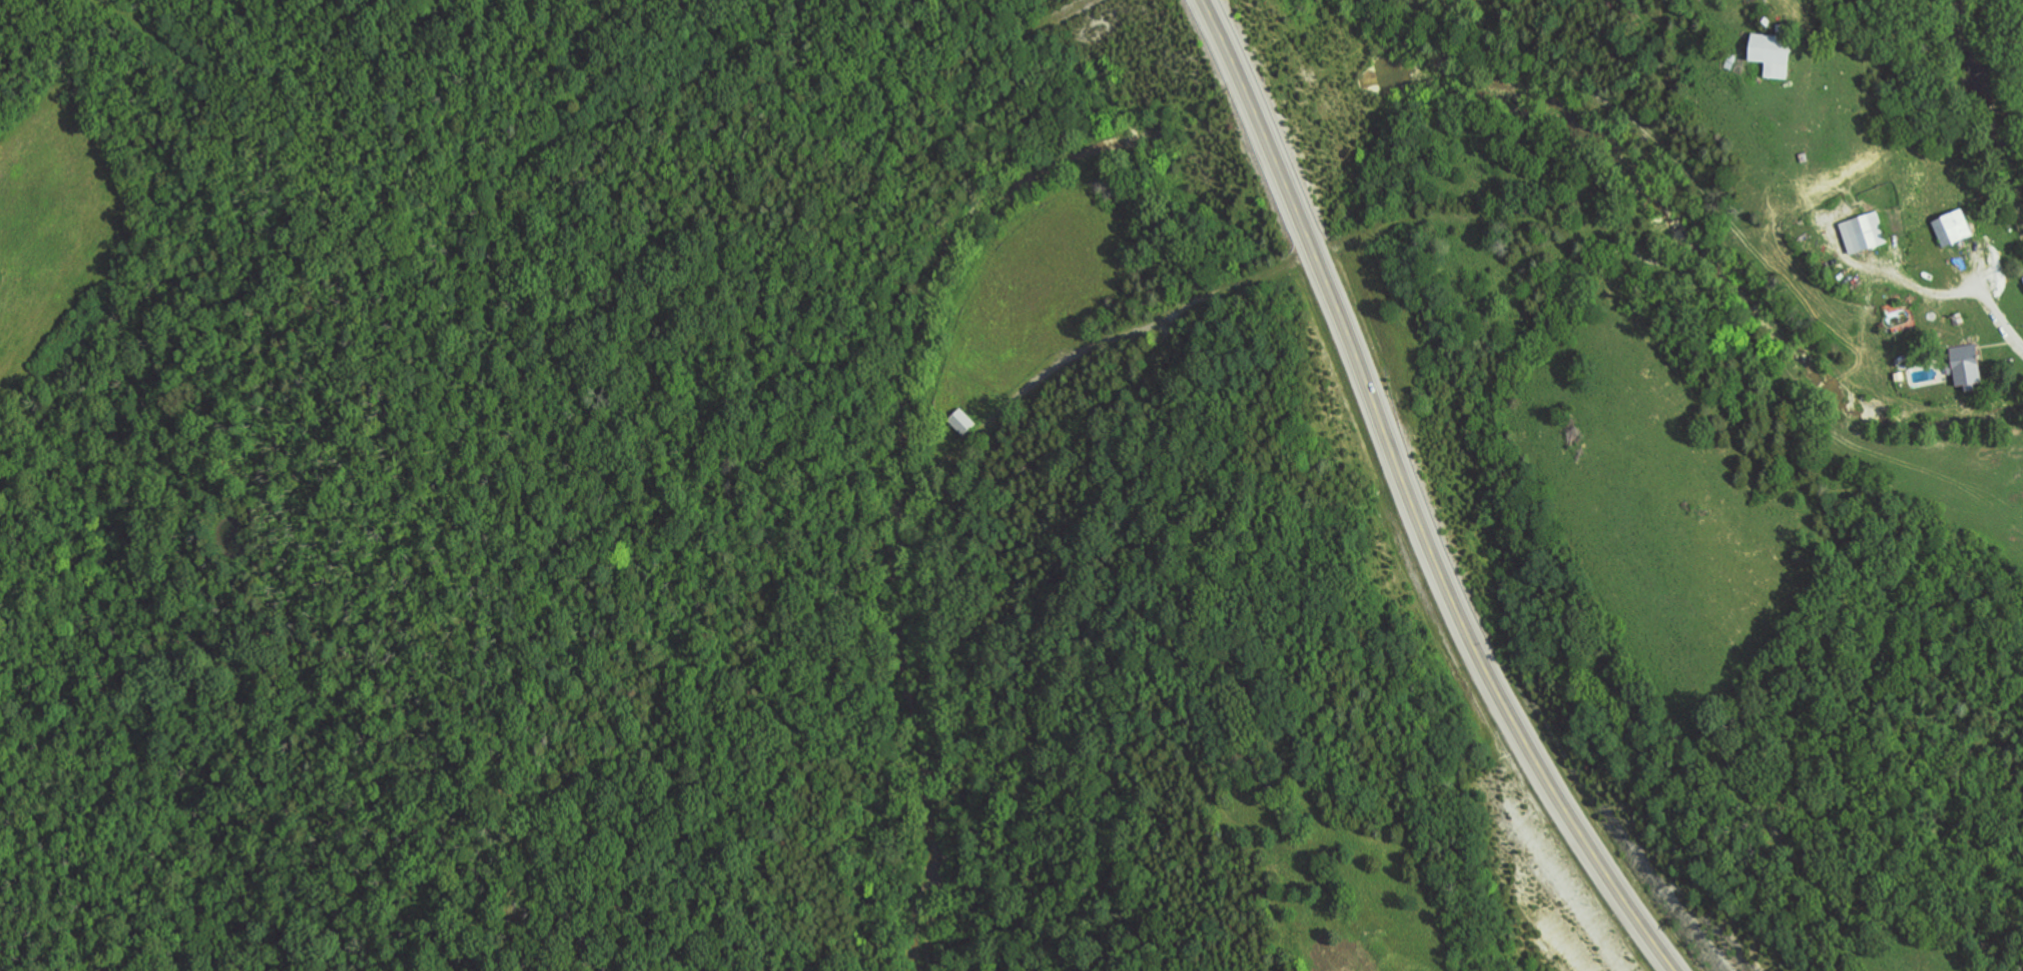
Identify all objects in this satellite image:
road: (1062, 12)
building: (1773, 52)
road: (1293, 196)
building: (1954, 226)
building: (1864, 232)
road: (1984, 270)
road: (1946, 292)
road: (1134, 329)
building: (1966, 364)
building: (961, 420)
road: (1498, 695)

